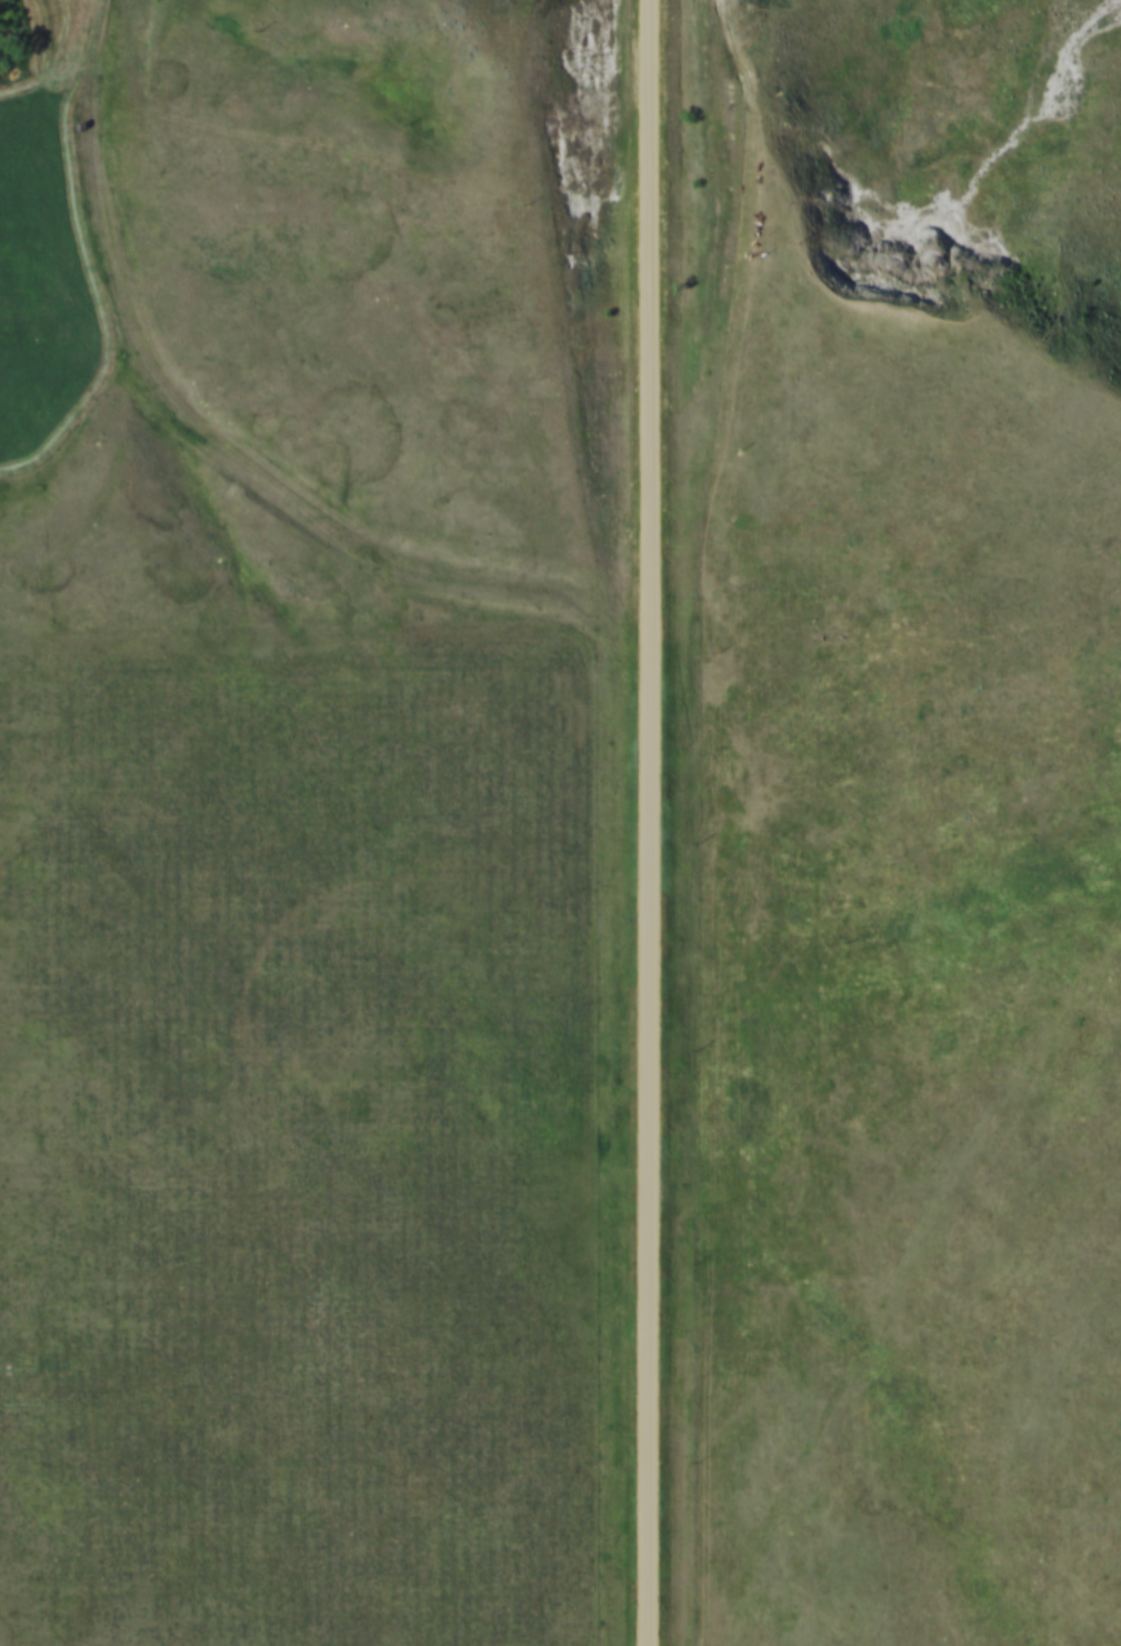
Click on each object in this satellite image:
road: (654, 822)

